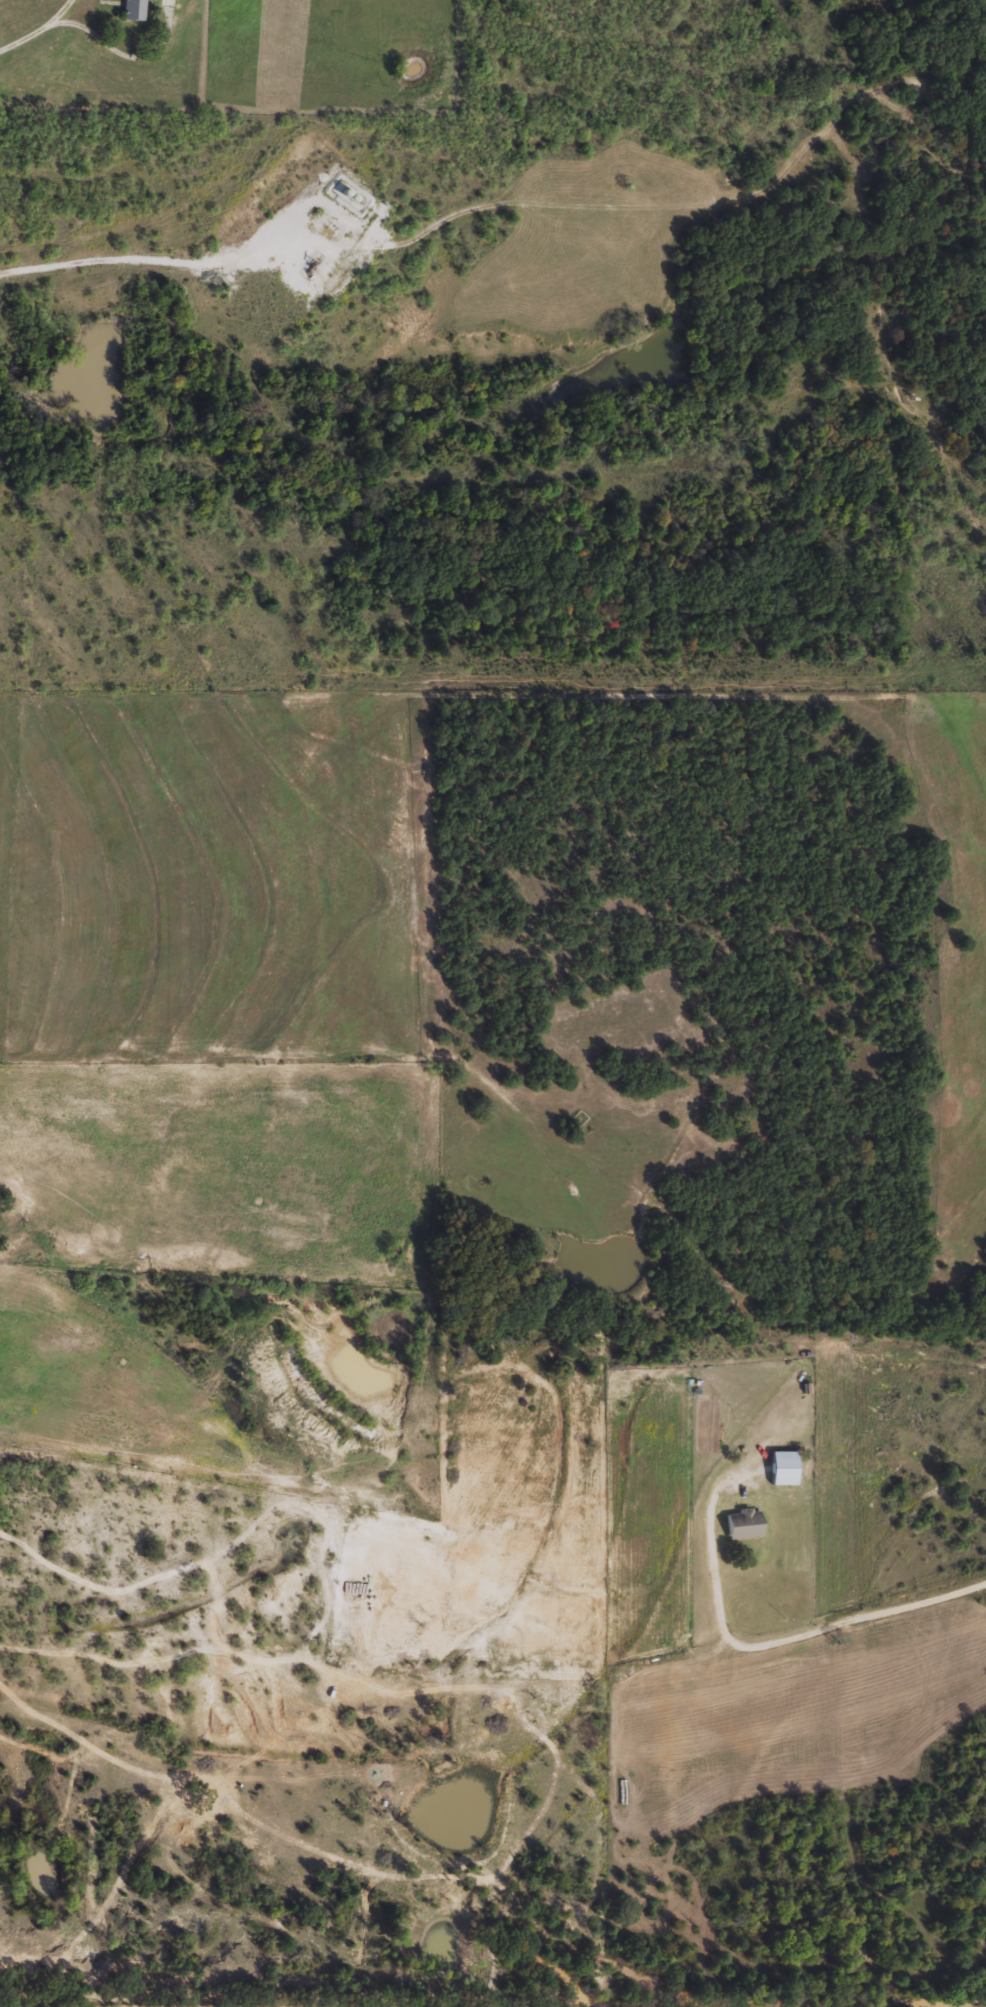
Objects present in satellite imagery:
building: (131, 9)
road: (93, 38)
road: (153, 260)
building: (780, 1467)
building: (741, 1523)
road: (780, 1643)

